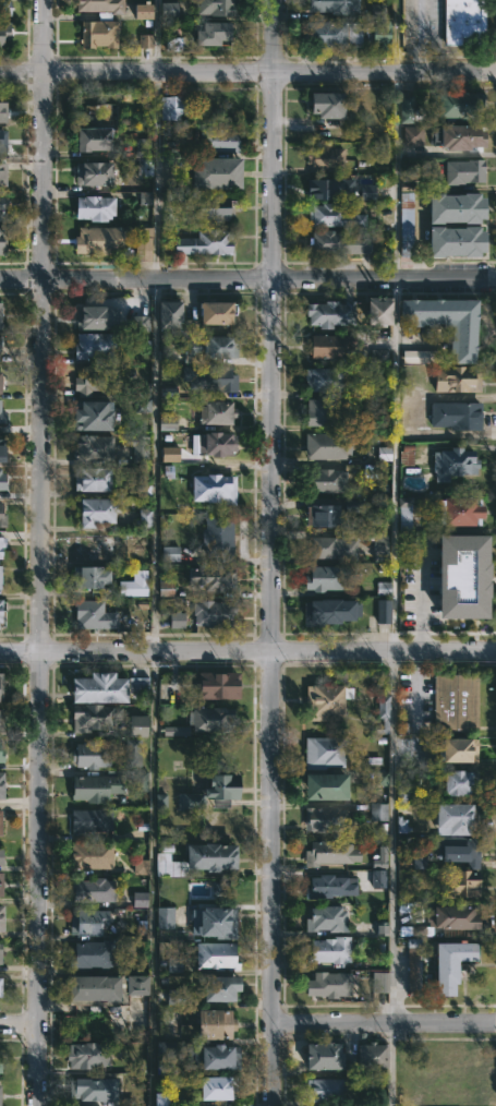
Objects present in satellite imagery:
building: (100, 7)
building: (332, 7)
building: (3, 8)
building: (213, 8)
building: (169, 10)
building: (143, 11)
building: (461, 23)
building: (211, 31)
building: (2, 32)
building: (98, 33)
building: (322, 35)
building: (380, 35)
building: (145, 40)
building: (176, 44)
road: (247, 73)
building: (325, 104)
building: (171, 105)
building: (457, 105)
building: (409, 108)
building: (2, 110)
building: (412, 135)
building: (461, 136)
building: (90, 137)
building: (2, 139)
building: (218, 139)
building: (143, 147)
building: (324, 157)
building: (145, 169)
building: (463, 170)
building: (1, 172)
building: (216, 172)
building: (93, 173)
building: (323, 185)
building: (366, 191)
building: (145, 197)
building: (2, 205)
building: (93, 206)
building: (215, 206)
building: (456, 207)
building: (335, 217)
building: (406, 224)
building: (1, 240)
building: (96, 240)
building: (144, 240)
building: (204, 241)
building: (337, 241)
building: (455, 241)
road: (247, 279)
building: (377, 311)
building: (168, 312)
building: (330, 313)
building: (0, 315)
building: (209, 316)
building: (95, 317)
building: (140, 323)
building: (445, 323)
building: (0, 342)
building: (329, 345)
building: (94, 346)
building: (208, 348)
building: (379, 356)
building: (420, 356)
building: (93, 378)
building: (210, 378)
building: (323, 378)
building: (456, 380)
building: (1, 382)
building: (142, 398)
building: (317, 411)
building: (215, 412)
building: (92, 414)
building: (453, 414)
building: (1, 417)
building: (167, 422)
building: (213, 444)
building: (325, 444)
building: (90, 446)
building: (140, 448)
building: (1, 449)
building: (170, 454)
building: (384, 454)
building: (406, 455)
building: (453, 464)
building: (92, 480)
building: (325, 480)
building: (1, 481)
building: (213, 488)
building: (96, 512)
building: (403, 513)
building: (458, 513)
building: (324, 516)
building: (144, 517)
building: (2, 519)
building: (216, 537)
building: (2, 543)
building: (94, 545)
building: (349, 545)
road: (38, 552)
road: (154, 552)
road: (391, 552)
building: (170, 553)
road: (273, 553)
road: (419, 553)
building: (462, 576)
building: (90, 577)
building: (216, 577)
building: (323, 577)
building: (0, 580)
building: (133, 588)
building: (166, 588)
building: (325, 611)
building: (383, 611)
building: (211, 612)
building: (2, 615)
building: (92, 615)
building: (177, 620)
road: (247, 651)
building: (0, 682)
building: (138, 683)
building: (217, 684)
building: (97, 686)
road: (415, 689)
building: (324, 701)
building: (456, 702)
building: (383, 712)
building: (95, 717)
building: (211, 718)
building: (1, 719)
building: (135, 725)
building: (176, 731)
building: (459, 747)
building: (132, 752)
building: (323, 752)
building: (90, 754)
building: (0, 756)
building: (382, 778)
building: (459, 781)
building: (1, 783)
building: (323, 786)
building: (94, 788)
building: (210, 791)
building: (160, 801)
building: (378, 812)
building: (1, 813)
building: (456, 816)
building: (327, 818)
building: (88, 821)
building: (458, 850)
building: (332, 851)
building: (209, 854)
building: (88, 855)
building: (1, 856)
building: (419, 858)
building: (378, 862)
building: (166, 865)
building: (141, 866)
building: (378, 878)
building: (1, 880)
building: (460, 883)
building: (329, 886)
building: (90, 890)
building: (140, 899)
building: (0, 911)
building: (165, 917)
building: (452, 917)
building: (326, 918)
building: (84, 922)
building: (217, 922)
building: (327, 950)
building: (0, 952)
building: (96, 954)
building: (215, 955)
building: (451, 962)
building: (174, 964)
building: (413, 966)
building: (379, 982)
building: (329, 984)
building: (104, 986)
building: (219, 987)
building: (0, 988)
building: (174, 997)
building: (207, 1022)
road: (384, 1022)
road: (17, 1023)
building: (166, 1050)
building: (86, 1055)
building: (323, 1055)
building: (211, 1056)
building: (366, 1058)
building: (0, 1061)
building: (450, 1074)
building: (217, 1087)
building: (90, 1089)
building: (325, 1090)
building: (0, 1092)
building: (161, 1098)

